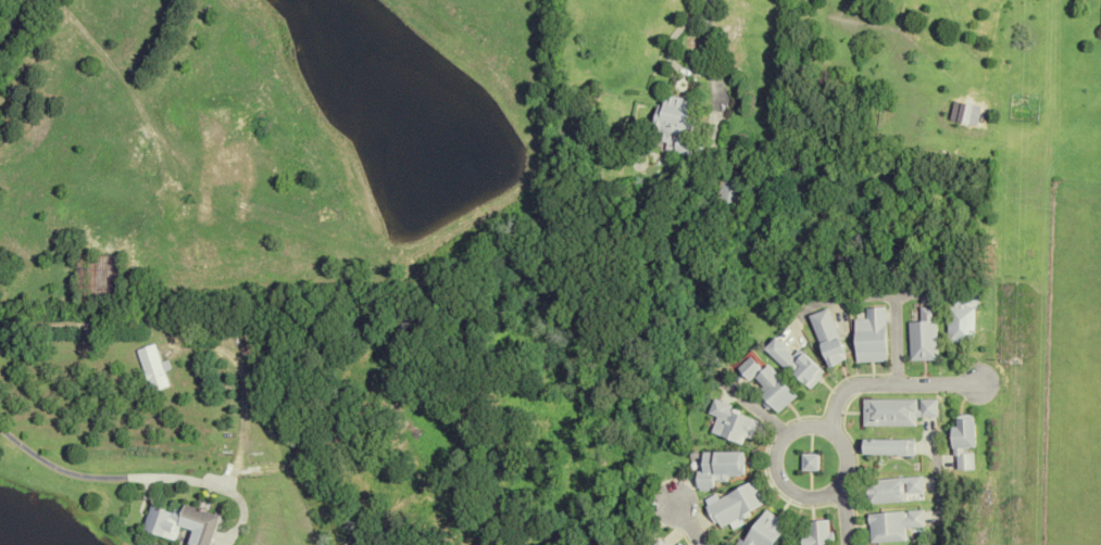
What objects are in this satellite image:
road: (14, 22)
road: (712, 71)
building: (678, 123)
building: (730, 194)
building: (962, 317)
building: (924, 335)
building: (873, 337)
building: (829, 338)
building: (797, 363)
building: (152, 367)
building: (751, 368)
road: (890, 380)
building: (776, 390)
building: (897, 410)
building: (735, 422)
building: (965, 441)
building: (889, 447)
building: (811, 462)
building: (722, 468)
road: (99, 480)
building: (892, 490)
road: (936, 490)
road: (805, 497)
building: (738, 506)
road: (842, 515)
road: (687, 520)
building: (183, 524)
building: (893, 525)
building: (767, 531)
building: (818, 533)
building: (660, 543)
building: (678, 544)

